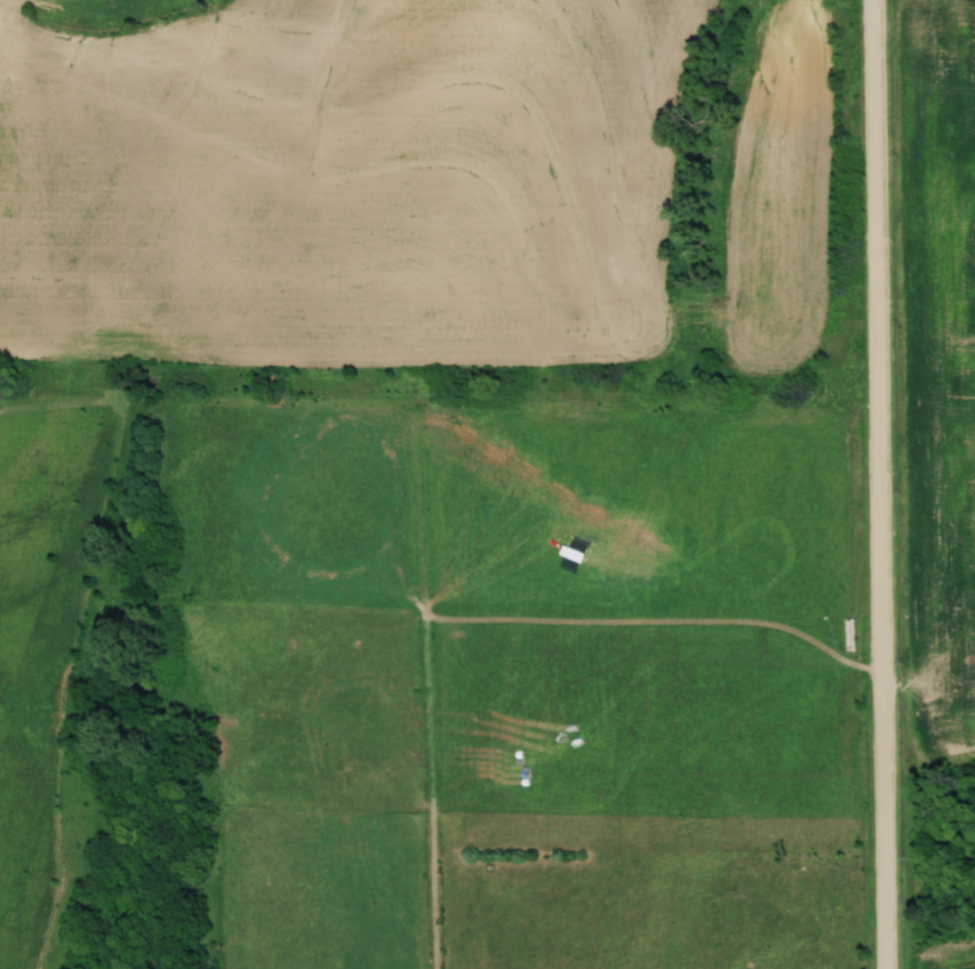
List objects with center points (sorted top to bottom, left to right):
road: (880, 484)

